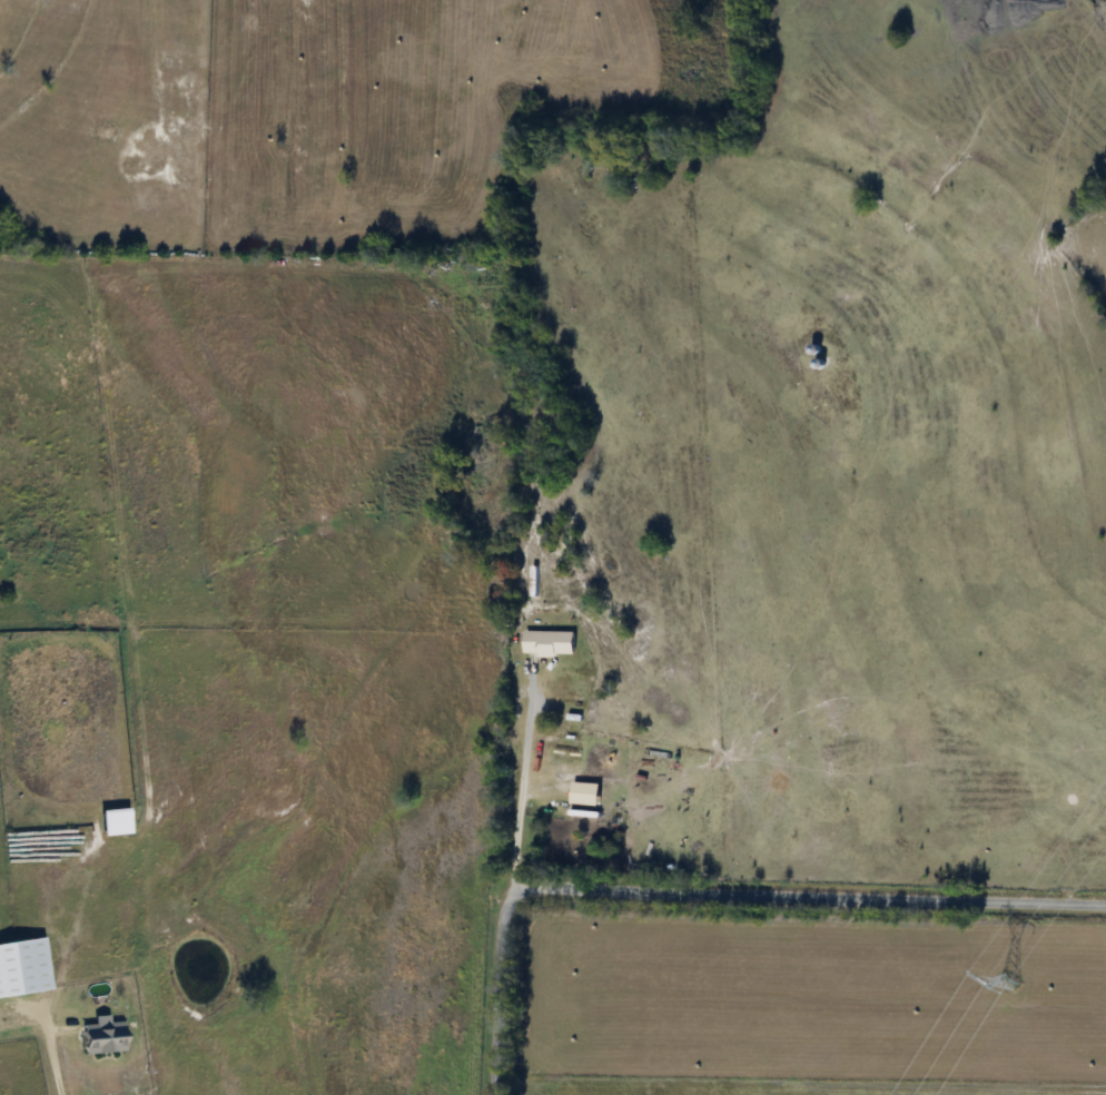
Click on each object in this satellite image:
building: (551, 644)
road: (524, 788)
road: (708, 895)
building: (23, 968)
power tower: (1009, 983)
building: (103, 1038)
road: (58, 1074)

